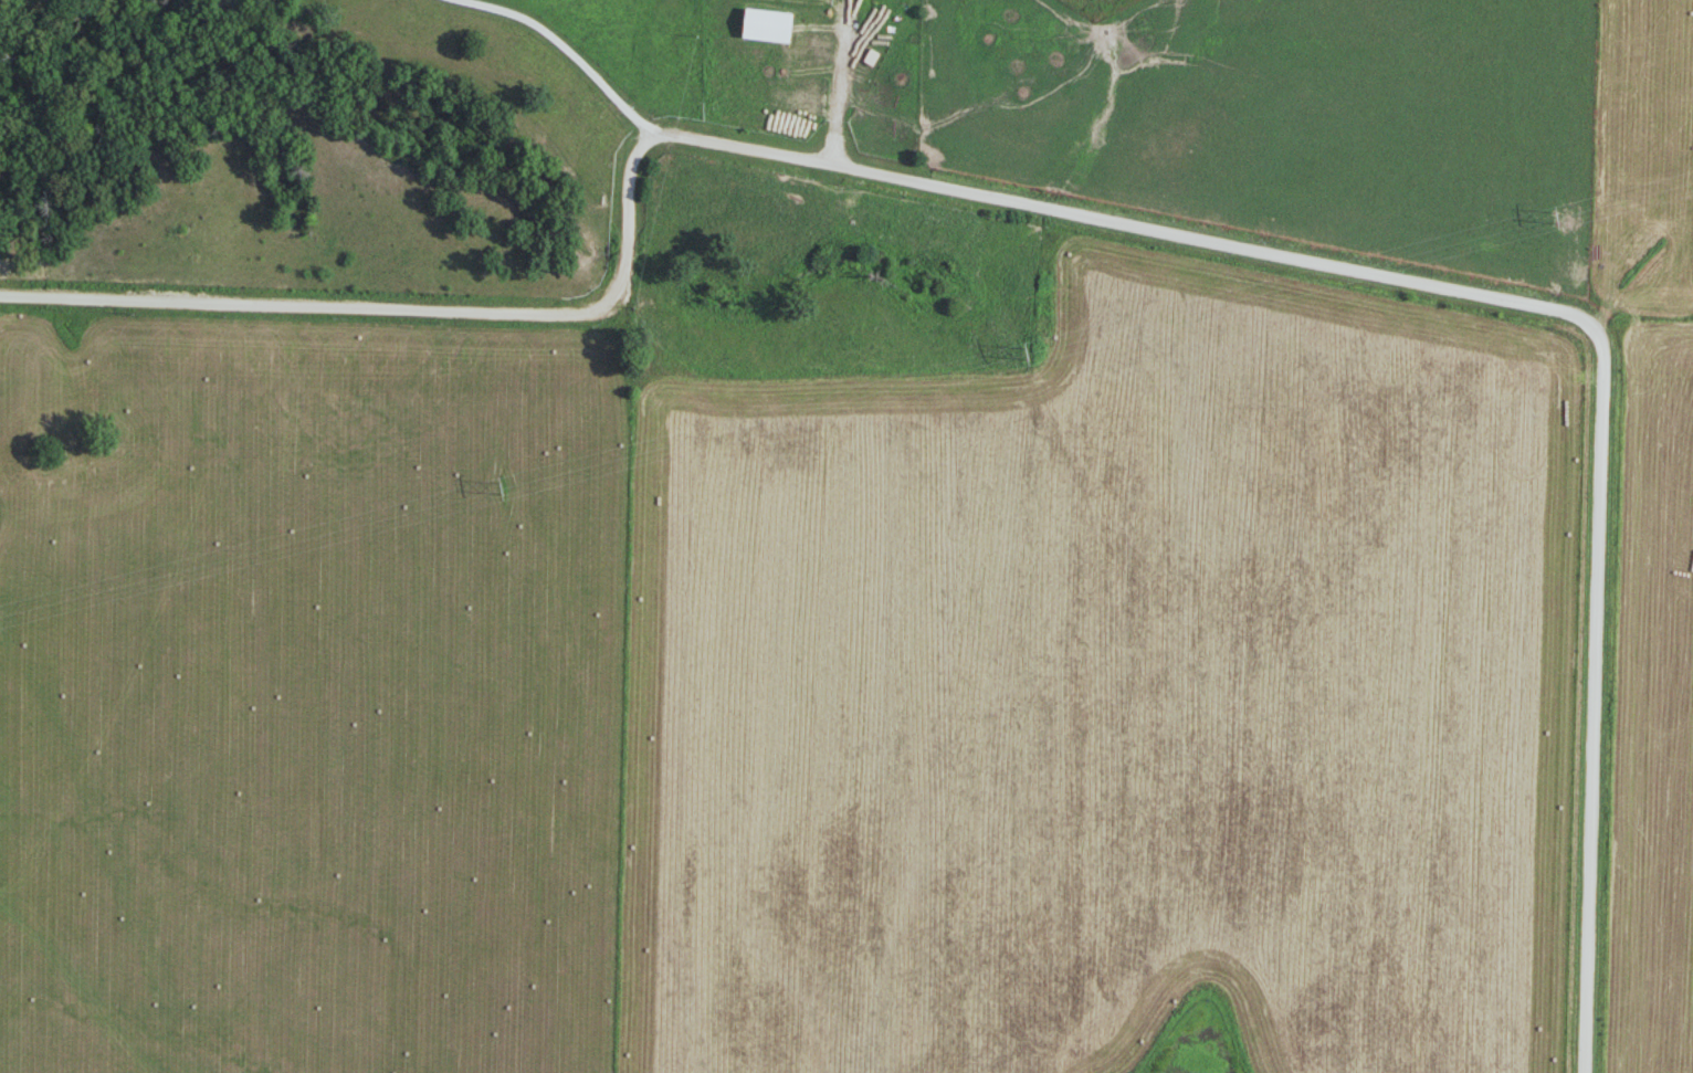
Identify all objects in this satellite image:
road: (568, 53)
road: (845, 85)
power tower: (1554, 220)
road: (1104, 221)
power tower: (1016, 355)
power tower: (493, 490)

